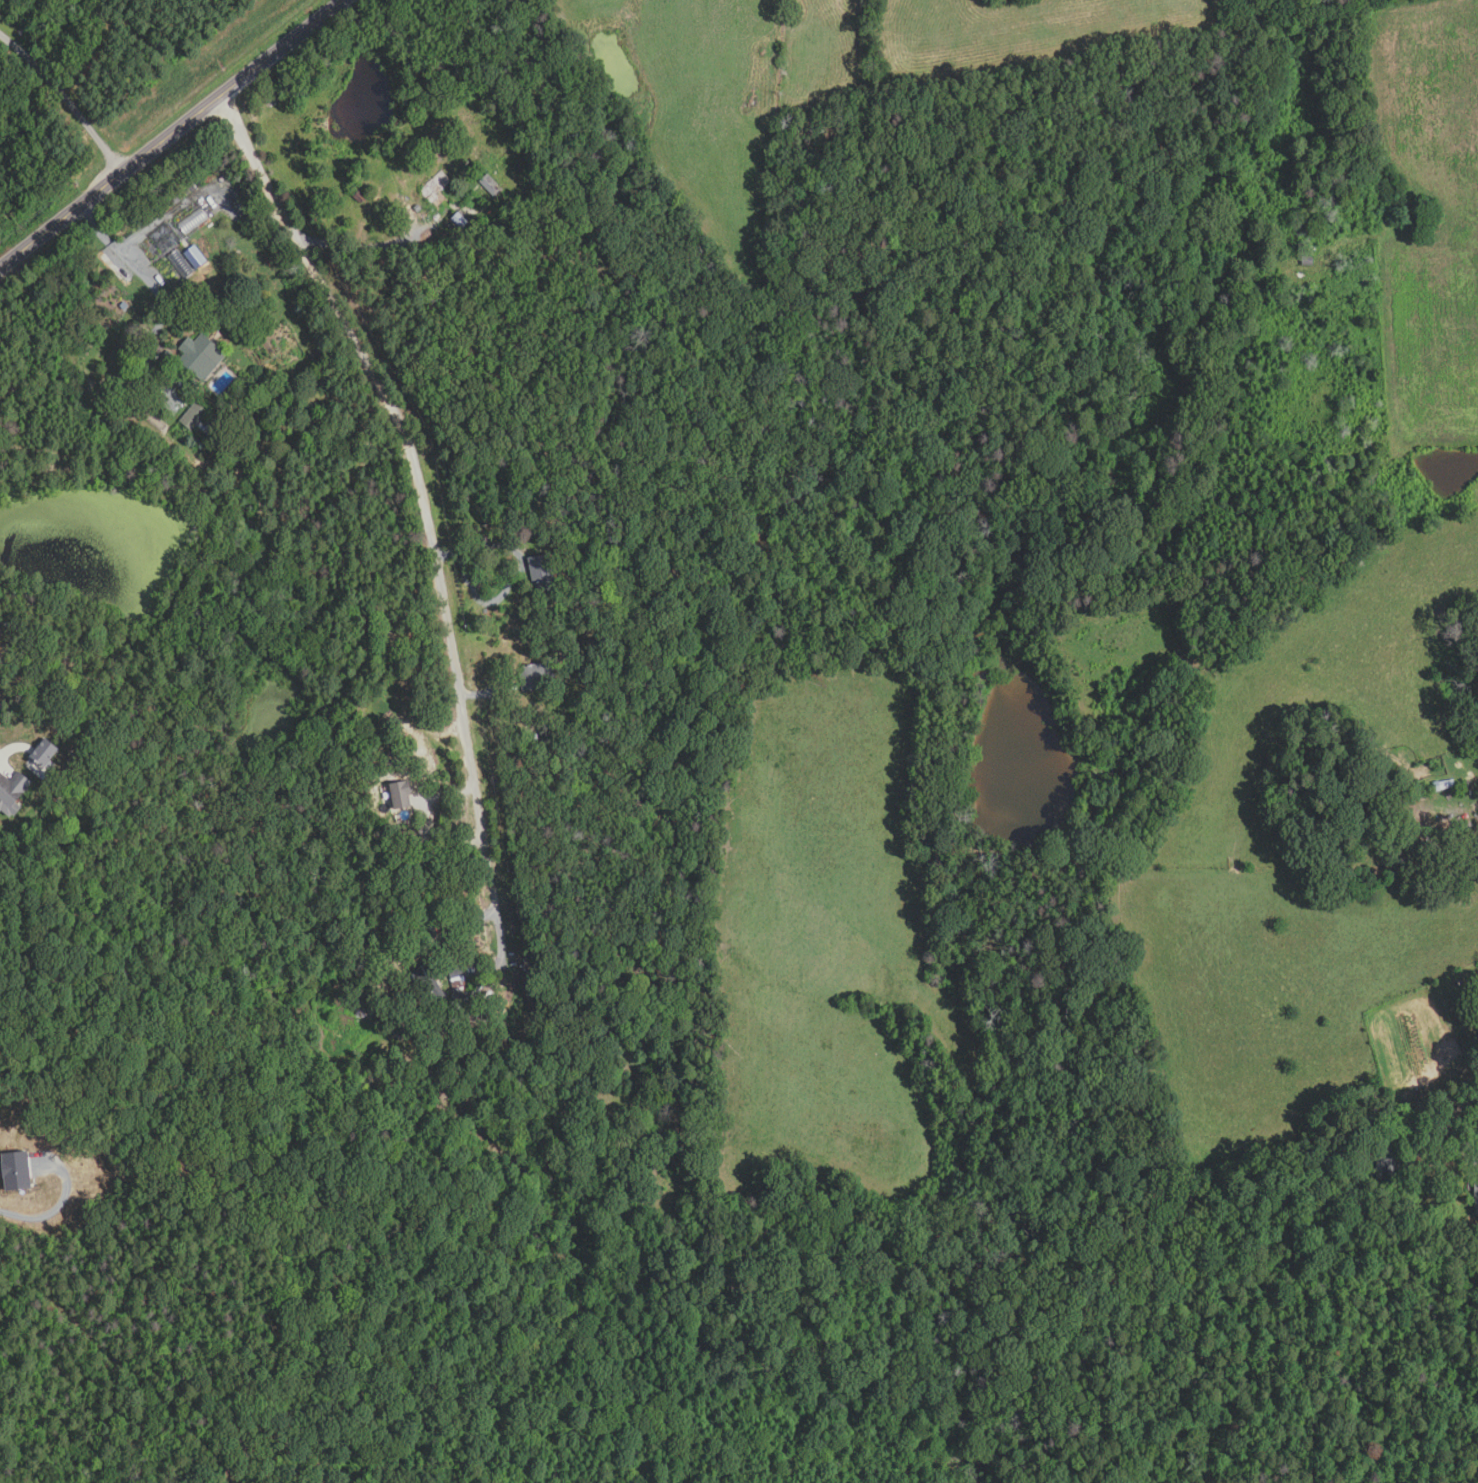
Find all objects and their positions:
road: (67, 101)
road: (174, 136)
building: (435, 186)
building: (491, 186)
building: (361, 197)
building: (193, 220)
building: (462, 221)
road: (153, 226)
building: (182, 265)
road: (155, 291)
building: (202, 358)
building: (194, 417)
road: (430, 513)
building: (556, 521)
building: (543, 573)
building: (538, 675)
building: (2, 692)
river: (1025, 752)
building: (1445, 784)
building: (1466, 785)
building: (1435, 786)
building: (12, 793)
building: (404, 795)
building: (1440, 797)
building: (1467, 826)
building: (410, 837)
building: (1397, 848)
building: (1428, 848)
building: (403, 860)
building: (457, 975)
building: (431, 981)
building: (459, 999)
building: (477, 1007)
building: (1390, 1160)
building: (14, 1166)
building: (1474, 1184)

